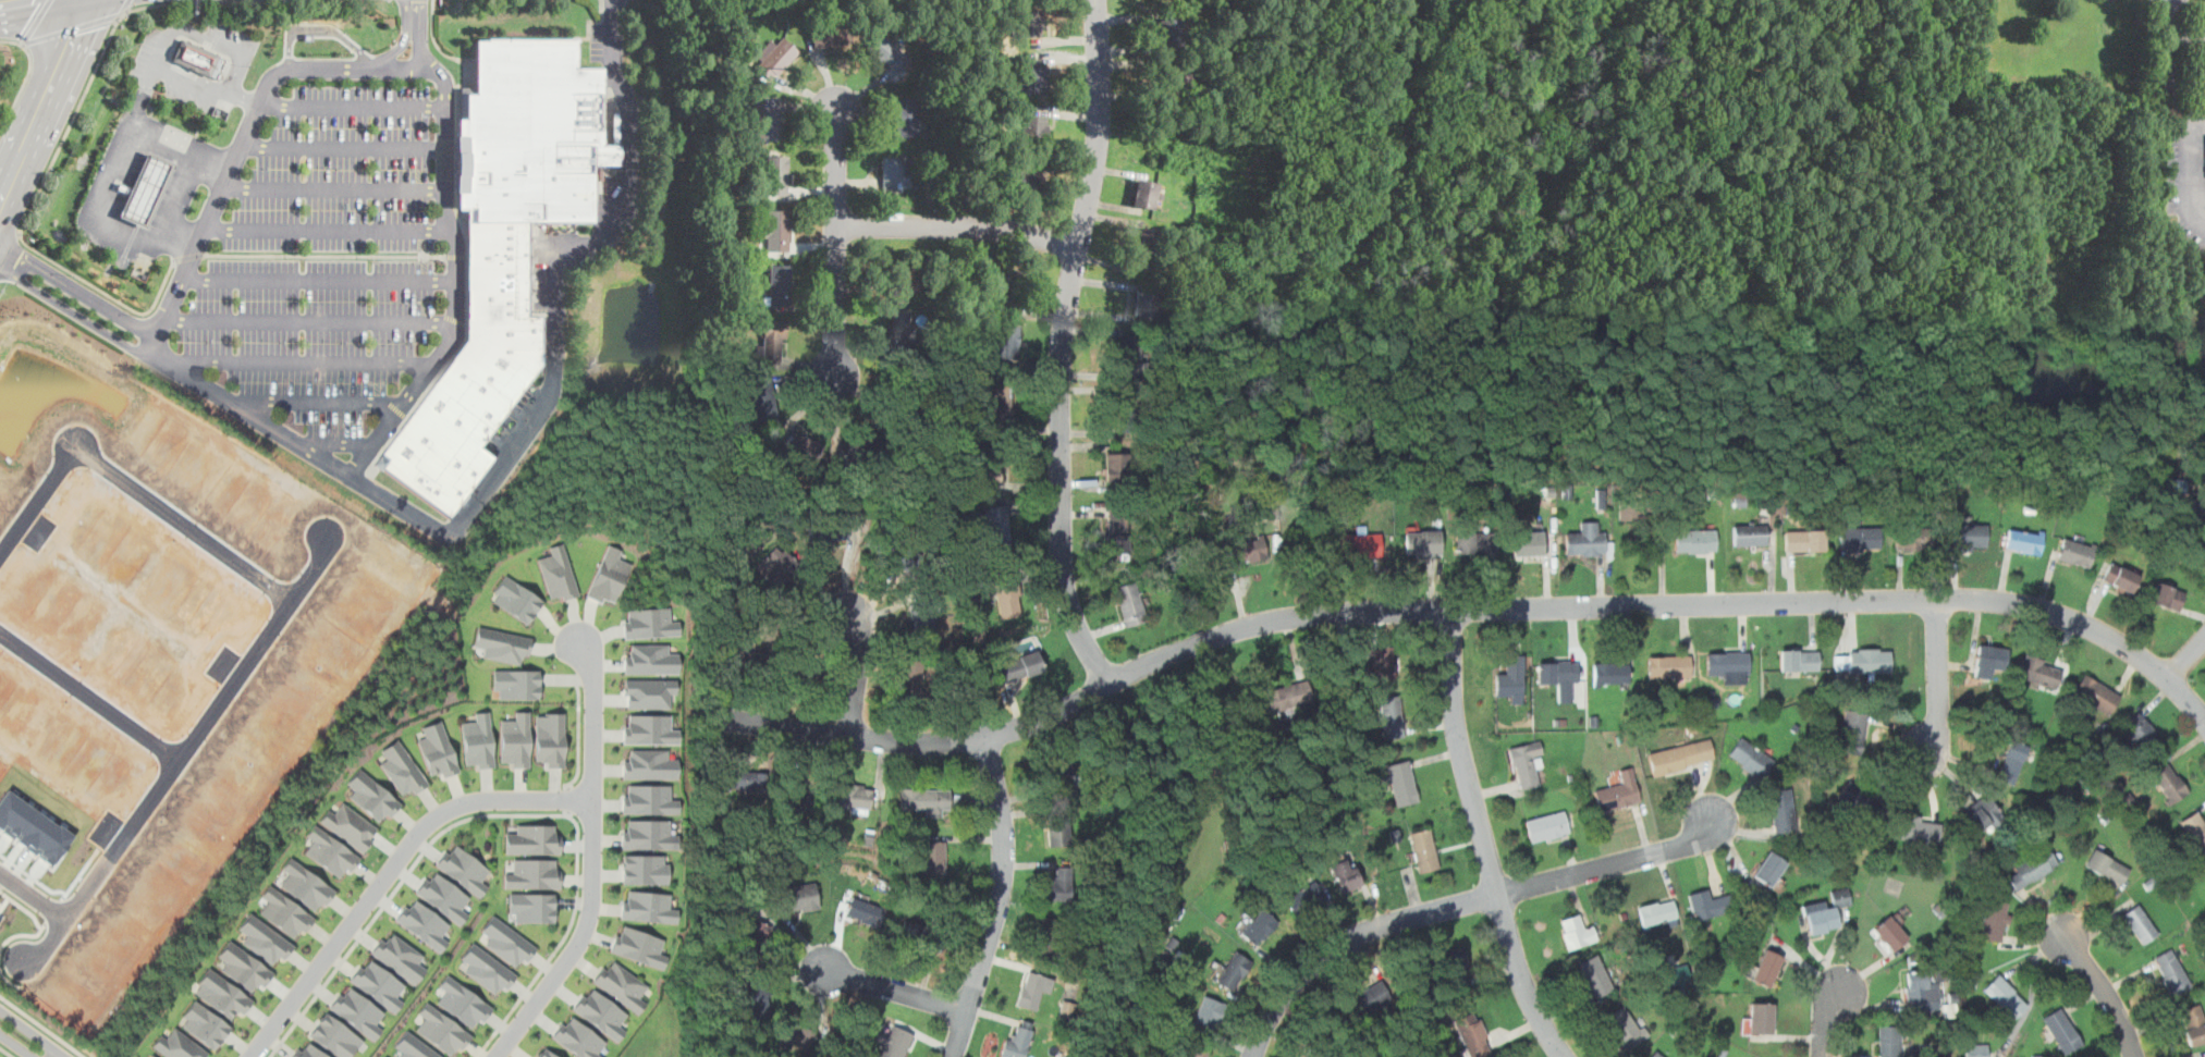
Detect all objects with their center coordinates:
road: (13, 2)
road: (126, 7)
road: (601, 16)
road: (37, 21)
building: (1030, 22)
road: (73, 28)
road: (319, 28)
road: (184, 30)
building: (1171, 30)
road: (421, 34)
road: (2189, 36)
building: (832, 37)
road: (434, 40)
road: (402, 42)
building: (887, 51)
building: (198, 57)
building: (777, 57)
parking lot: (195, 63)
road: (427, 69)
building: (1031, 76)
building: (1178, 76)
road: (25, 77)
road: (144, 100)
road: (355, 100)
road: (44, 101)
road: (2177, 106)
building: (907, 115)
building: (769, 121)
building: (1034, 126)
building: (531, 131)
road: (345, 146)
road: (54, 157)
building: (893, 169)
building: (777, 174)
road: (117, 177)
building: (1025, 177)
road: (339, 182)
building: (146, 189)
gas station: (146, 189)
building: (1147, 192)
road: (329, 224)
road: (957, 225)
building: (777, 229)
road: (835, 246)
building: (1147, 247)
road: (11, 251)
road: (326, 254)
road: (456, 255)
road: (188, 256)
parking lot: (323, 259)
road: (1, 266)
road: (1, 268)
road: (318, 276)
building: (899, 278)
building: (780, 283)
building: (1010, 284)
road: (78, 290)
building: (1146, 303)
road: (309, 318)
building: (899, 331)
building: (773, 341)
building: (1007, 341)
road: (1061, 345)
building: (1136, 354)
road: (303, 364)
building: (474, 373)
building: (764, 400)
building: (902, 403)
road: (321, 405)
building: (1001, 405)
building: (1124, 411)
road: (340, 443)
building: (804, 447)
building: (865, 448)
building: (1117, 467)
building: (992, 469)
road: (131, 483)
building: (2176, 486)
road: (470, 505)
building: (1632, 511)
building: (2201, 512)
building: (995, 525)
building: (826, 531)
building: (1117, 533)
building: (1750, 534)
building: (1968, 536)
building: (1859, 539)
building: (1585, 540)
building: (1911, 540)
building: (1695, 541)
building: (1804, 541)
building: (2025, 541)
building: (1422, 542)
building: (1472, 542)
building: (1528, 543)
building: (1357, 545)
building: (897, 551)
building: (1248, 551)
building: (2077, 552)
building: (780, 568)
building: (558, 574)
building: (610, 576)
building: (2120, 578)
building: (2167, 597)
building: (517, 600)
building: (1008, 600)
building: (1130, 604)
road: (1467, 609)
building: (922, 613)
building: (650, 622)
building: (503, 646)
road: (2186, 656)
building: (739, 660)
building: (652, 661)
building: (1799, 661)
building: (1988, 661)
building: (1869, 662)
building: (1381, 663)
building: (1669, 666)
building: (1729, 666)
building: (1019, 667)
building: (803, 672)
building: (2037, 672)
building: (1610, 674)
road: (859, 675)
building: (1558, 677)
building: (912, 679)
building: (1511, 679)
road: (1938, 681)
building: (517, 684)
road: (89, 692)
building: (649, 692)
building: (2096, 695)
building: (1289, 696)
building: (1391, 716)
road: (592, 720)
building: (649, 729)
building: (2139, 729)
building: (1852, 732)
road: (579, 733)
building: (550, 739)
building: (517, 740)
building: (480, 741)
building: (439, 750)
road: (179, 755)
building: (1679, 757)
building: (1751, 757)
building: (2011, 762)
building: (1526, 763)
building: (648, 765)
building: (404, 769)
building: (1064, 775)
building: (739, 777)
building: (1402, 782)
building: (2169, 784)
building: (1618, 792)
building: (797, 795)
building: (855, 796)
building: (373, 797)
building: (1854, 798)
road: (568, 799)
building: (648, 800)
building: (926, 800)
building: (1783, 811)
road: (501, 814)
building: (1983, 816)
building: (351, 826)
building: (1546, 826)
building: (1058, 829)
building: (1918, 829)
building: (2195, 829)
building: (648, 834)
road: (1483, 839)
building: (535, 840)
building: (1424, 851)
building: (331, 852)
building: (933, 858)
road: (1612, 863)
building: (2032, 867)
building: (2106, 867)
building: (465, 869)
building: (645, 869)
building: (1769, 869)
road: (390, 872)
building: (534, 873)
building: (1344, 875)
building: (307, 884)
building: (1061, 885)
building: (443, 896)
building: (1841, 897)
building: (800, 898)
building: (1302, 898)
road: (997, 901)
building: (1708, 905)
building: (649, 906)
building: (532, 907)
building: (863, 910)
building: (286, 913)
building: (1656, 913)
building: (1820, 917)
building: (1995, 920)
building: (424, 924)
building: (2140, 924)
building: (1260, 927)
building: (908, 931)
building: (1049, 931)
building: (1577, 933)
building: (1890, 933)
building: (755, 934)
building: (920, 936)
road: (1348, 938)
building: (266, 939)
road: (580, 939)
building: (506, 942)
building: (932, 944)
building: (639, 946)
building: (399, 957)
building: (245, 968)
building: (486, 969)
building: (1457, 969)
building: (1766, 969)
building: (1234, 971)
building: (2172, 973)
building: (1680, 974)
building: (1595, 976)
building: (379, 984)
building: (622, 985)
road: (890, 988)
building: (1033, 991)
building: (1921, 992)
road: (2106, 992)
building: (222, 994)
building: (1373, 996)
building: (759, 997)
building: (2006, 997)
building: (461, 1003)
building: (358, 1011)
building: (600, 1011)
building: (1209, 1012)
building: (1761, 1018)
road: (1824, 1018)
building: (205, 1024)
building: (2194, 1024)
road: (41, 1025)
building: (1626, 1028)
building: (442, 1029)
road: (30, 1031)
building: (2062, 1031)
building: (794, 1035)
building: (1471, 1035)
building: (334, 1036)
building: (577, 1038)
building: (1888, 1041)
building: (893, 1042)
building: (1018, 1042)
road: (16, 1045)
building: (180, 1045)
building: (413, 1047)
building: (308, 1050)
building: (1976, 1050)
building: (1196, 1052)
road: (5, 1053)
building: (544, 1054)
building: (1656, 1054)
building: (154, 1055)
building: (388, 1056)

